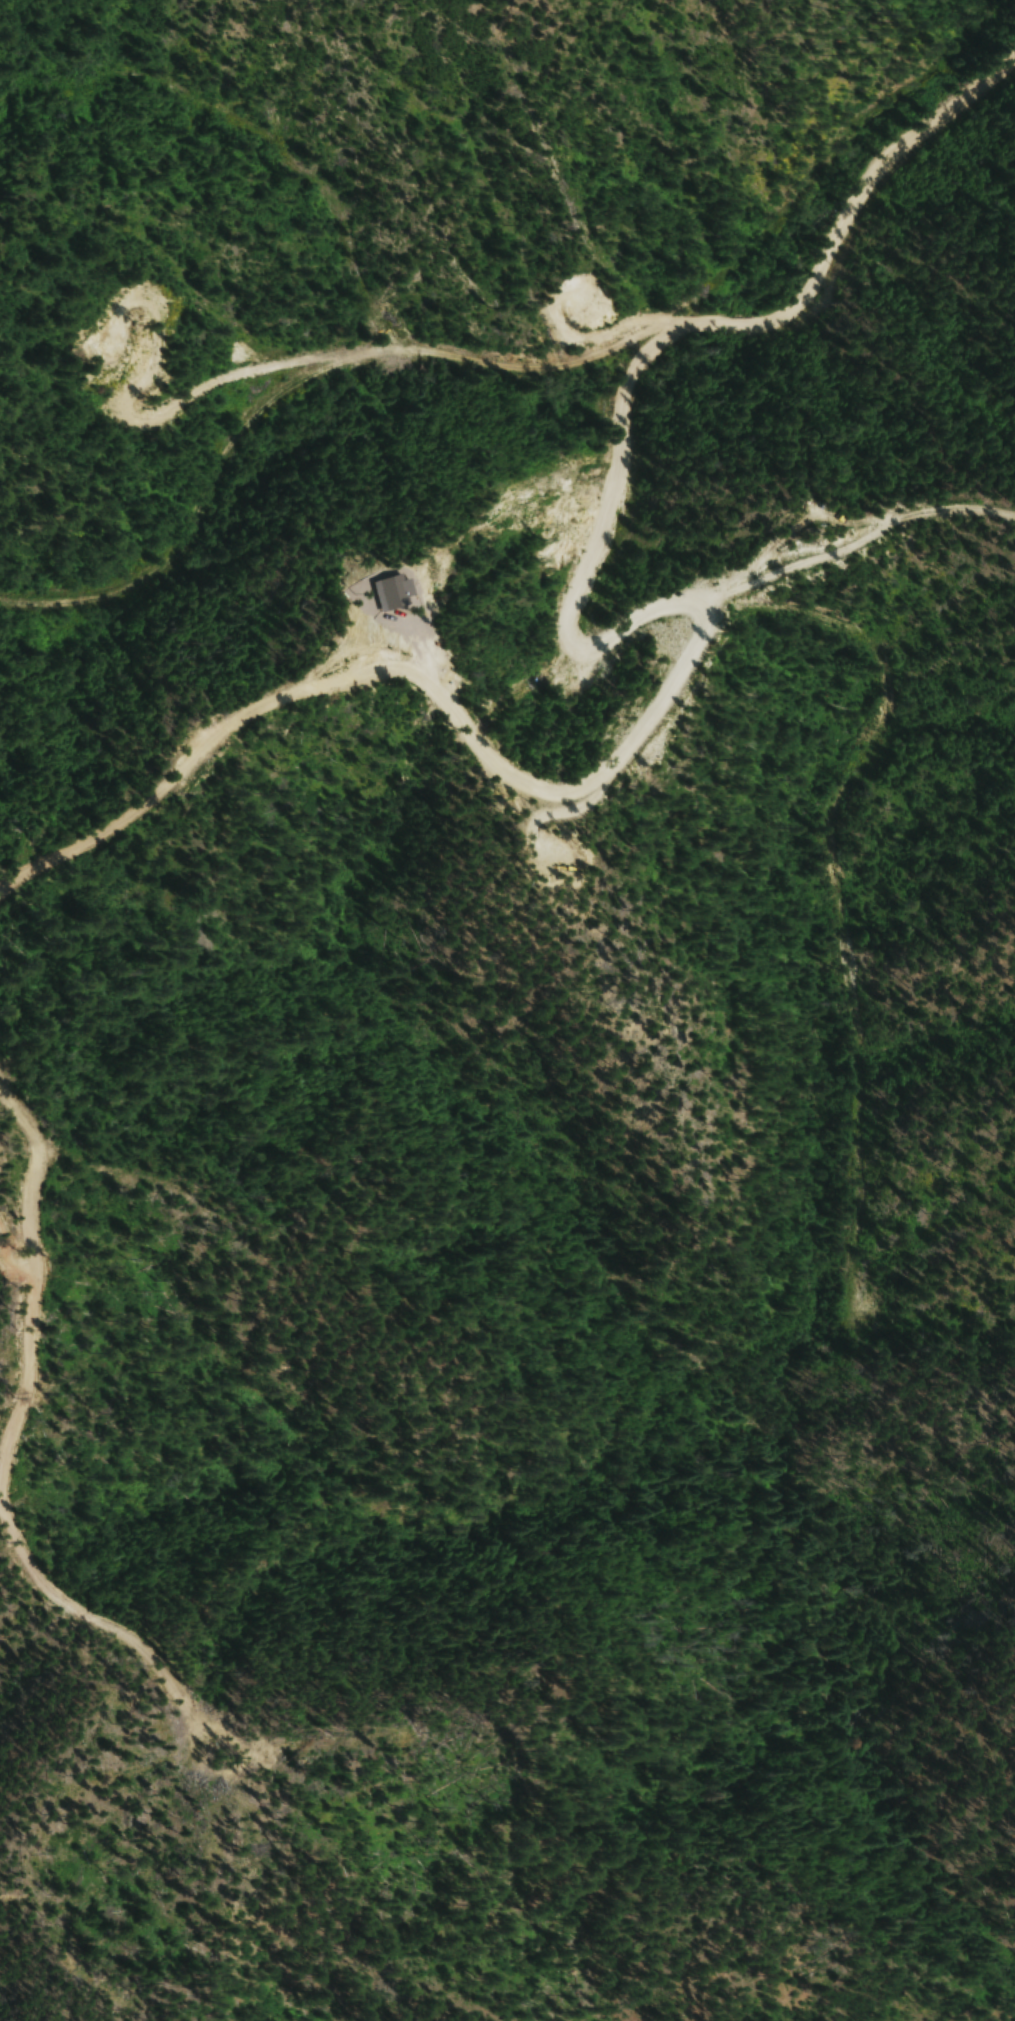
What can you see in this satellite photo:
road: (642, 335)
road: (585, 782)
road: (26, 1281)
road: (87, 1613)

